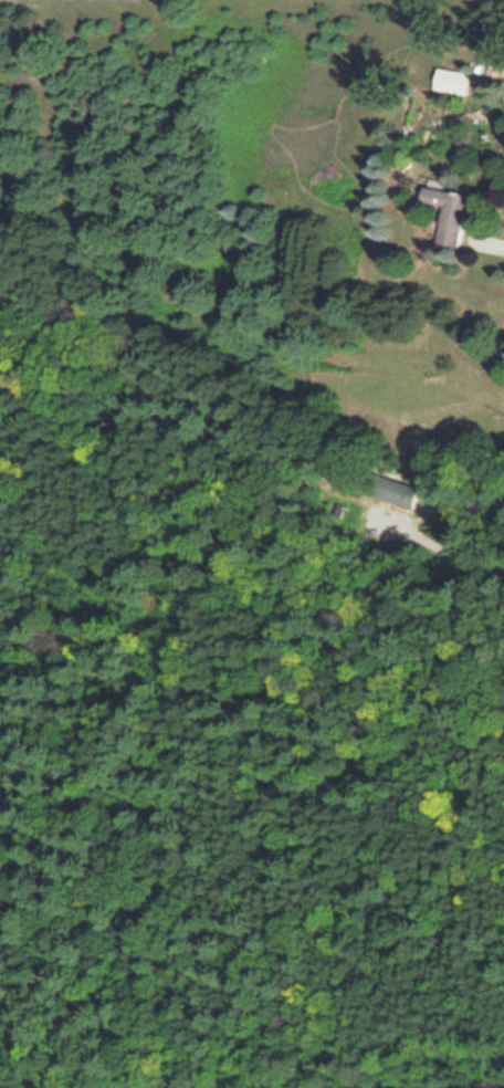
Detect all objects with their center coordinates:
building: (485, 69)
building: (450, 79)
building: (444, 212)
building: (388, 488)

